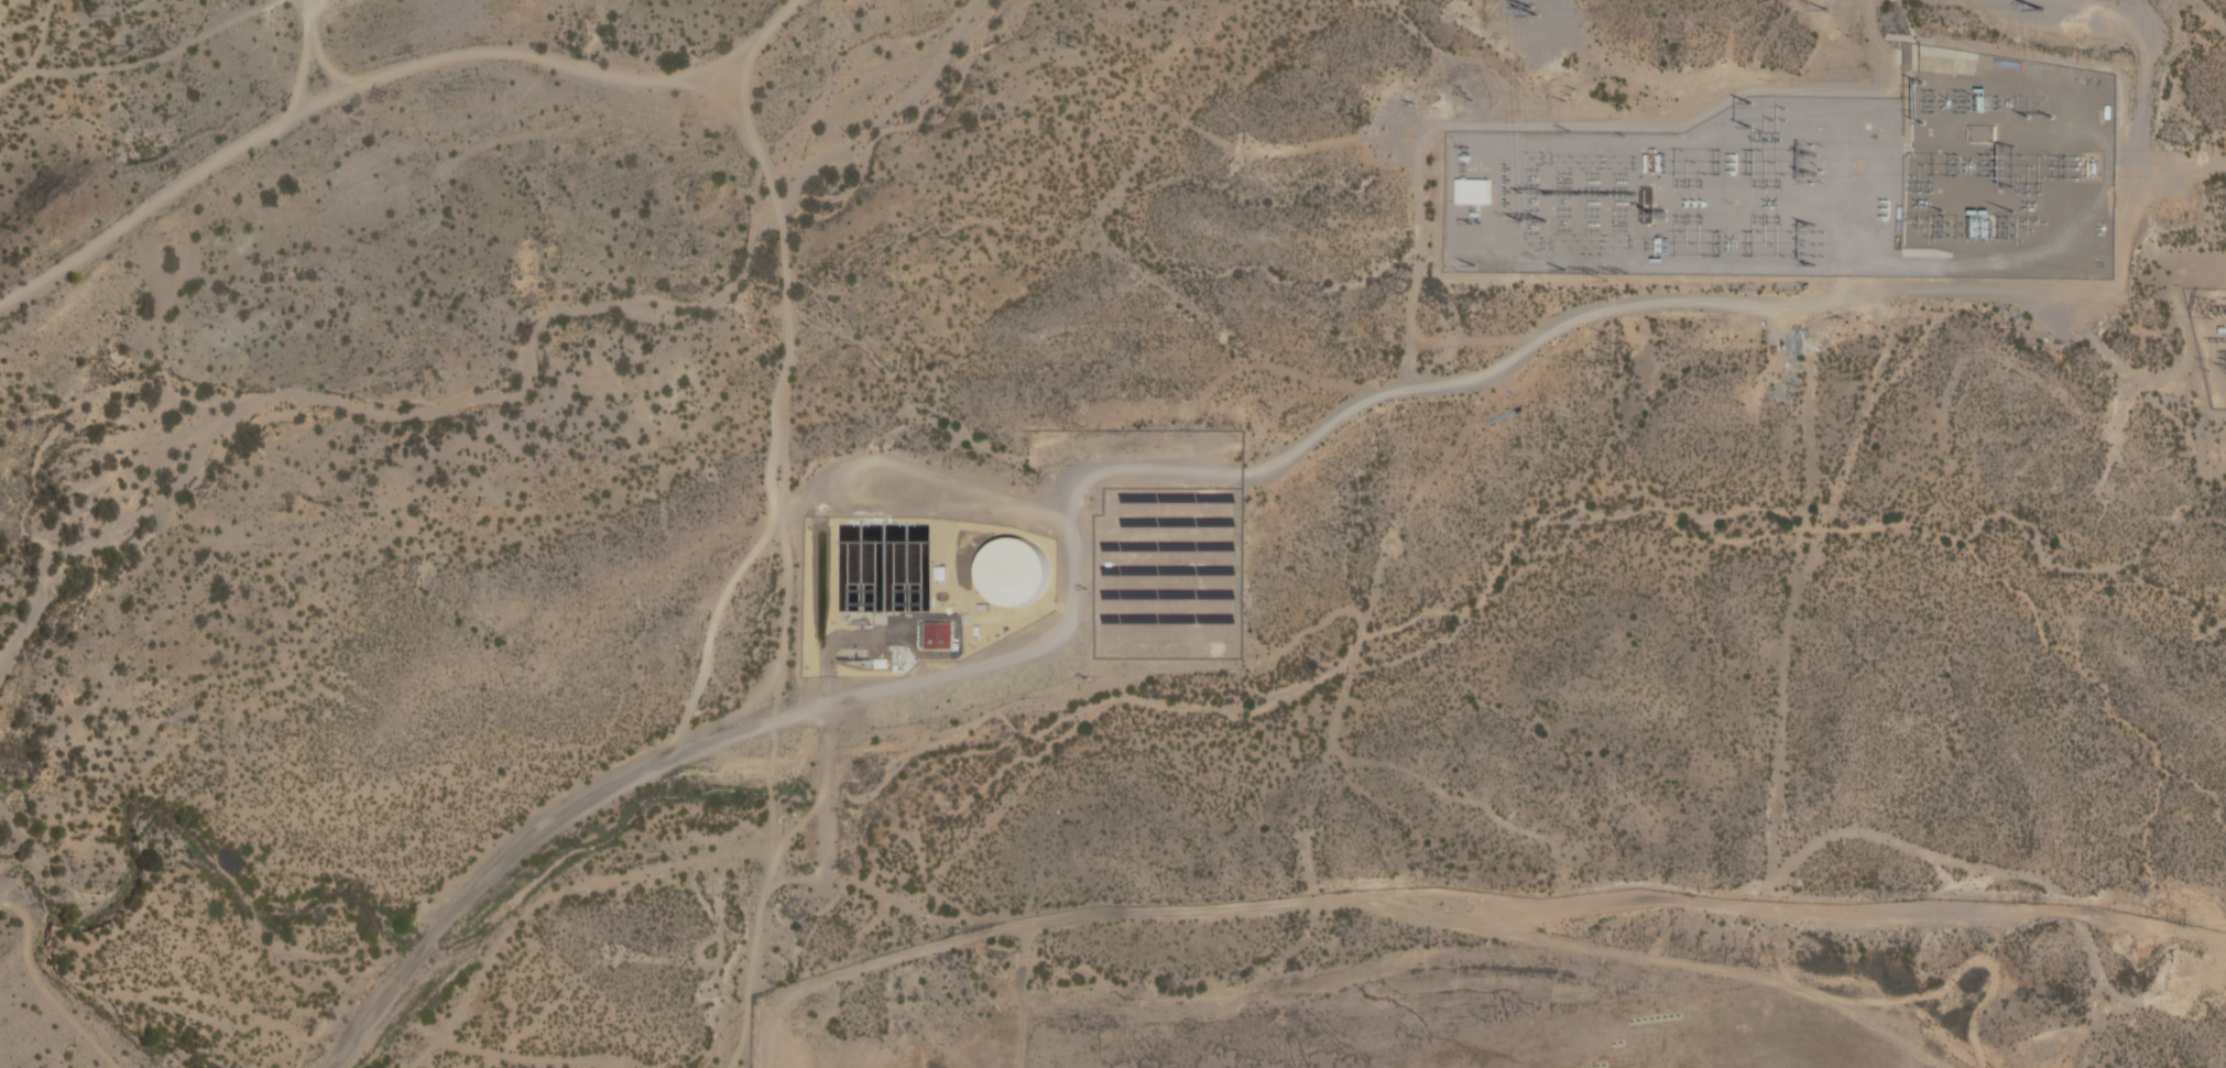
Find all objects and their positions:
road: (790, 0)
power tower: (89, 8)
road: (2209, 13)
road: (25, 20)
road: (1876, 43)
power tower: (1068, 44)
road: (36, 51)
road: (379, 75)
power tower: (389, 99)
building: (1983, 135)
power tower: (1236, 162)
road: (2179, 170)
power substation: (1811, 185)
power tower: (694, 193)
building: (1473, 193)
power tower: (1619, 275)
power tower: (1401, 282)
power tower: (1594, 290)
power tower: (2209, 303)
power tower: (1135, 330)
power tower: (1379, 334)
power tower: (1567, 334)
power substation: (2209, 336)
power tower: (1618, 358)
power tower: (1792, 389)
road: (1158, 467)
power tower: (2125, 472)
building: (1012, 571)
storage tank: (1012, 571)
solar farm: (1163, 575)
building: (936, 635)
road: (1569, 903)

